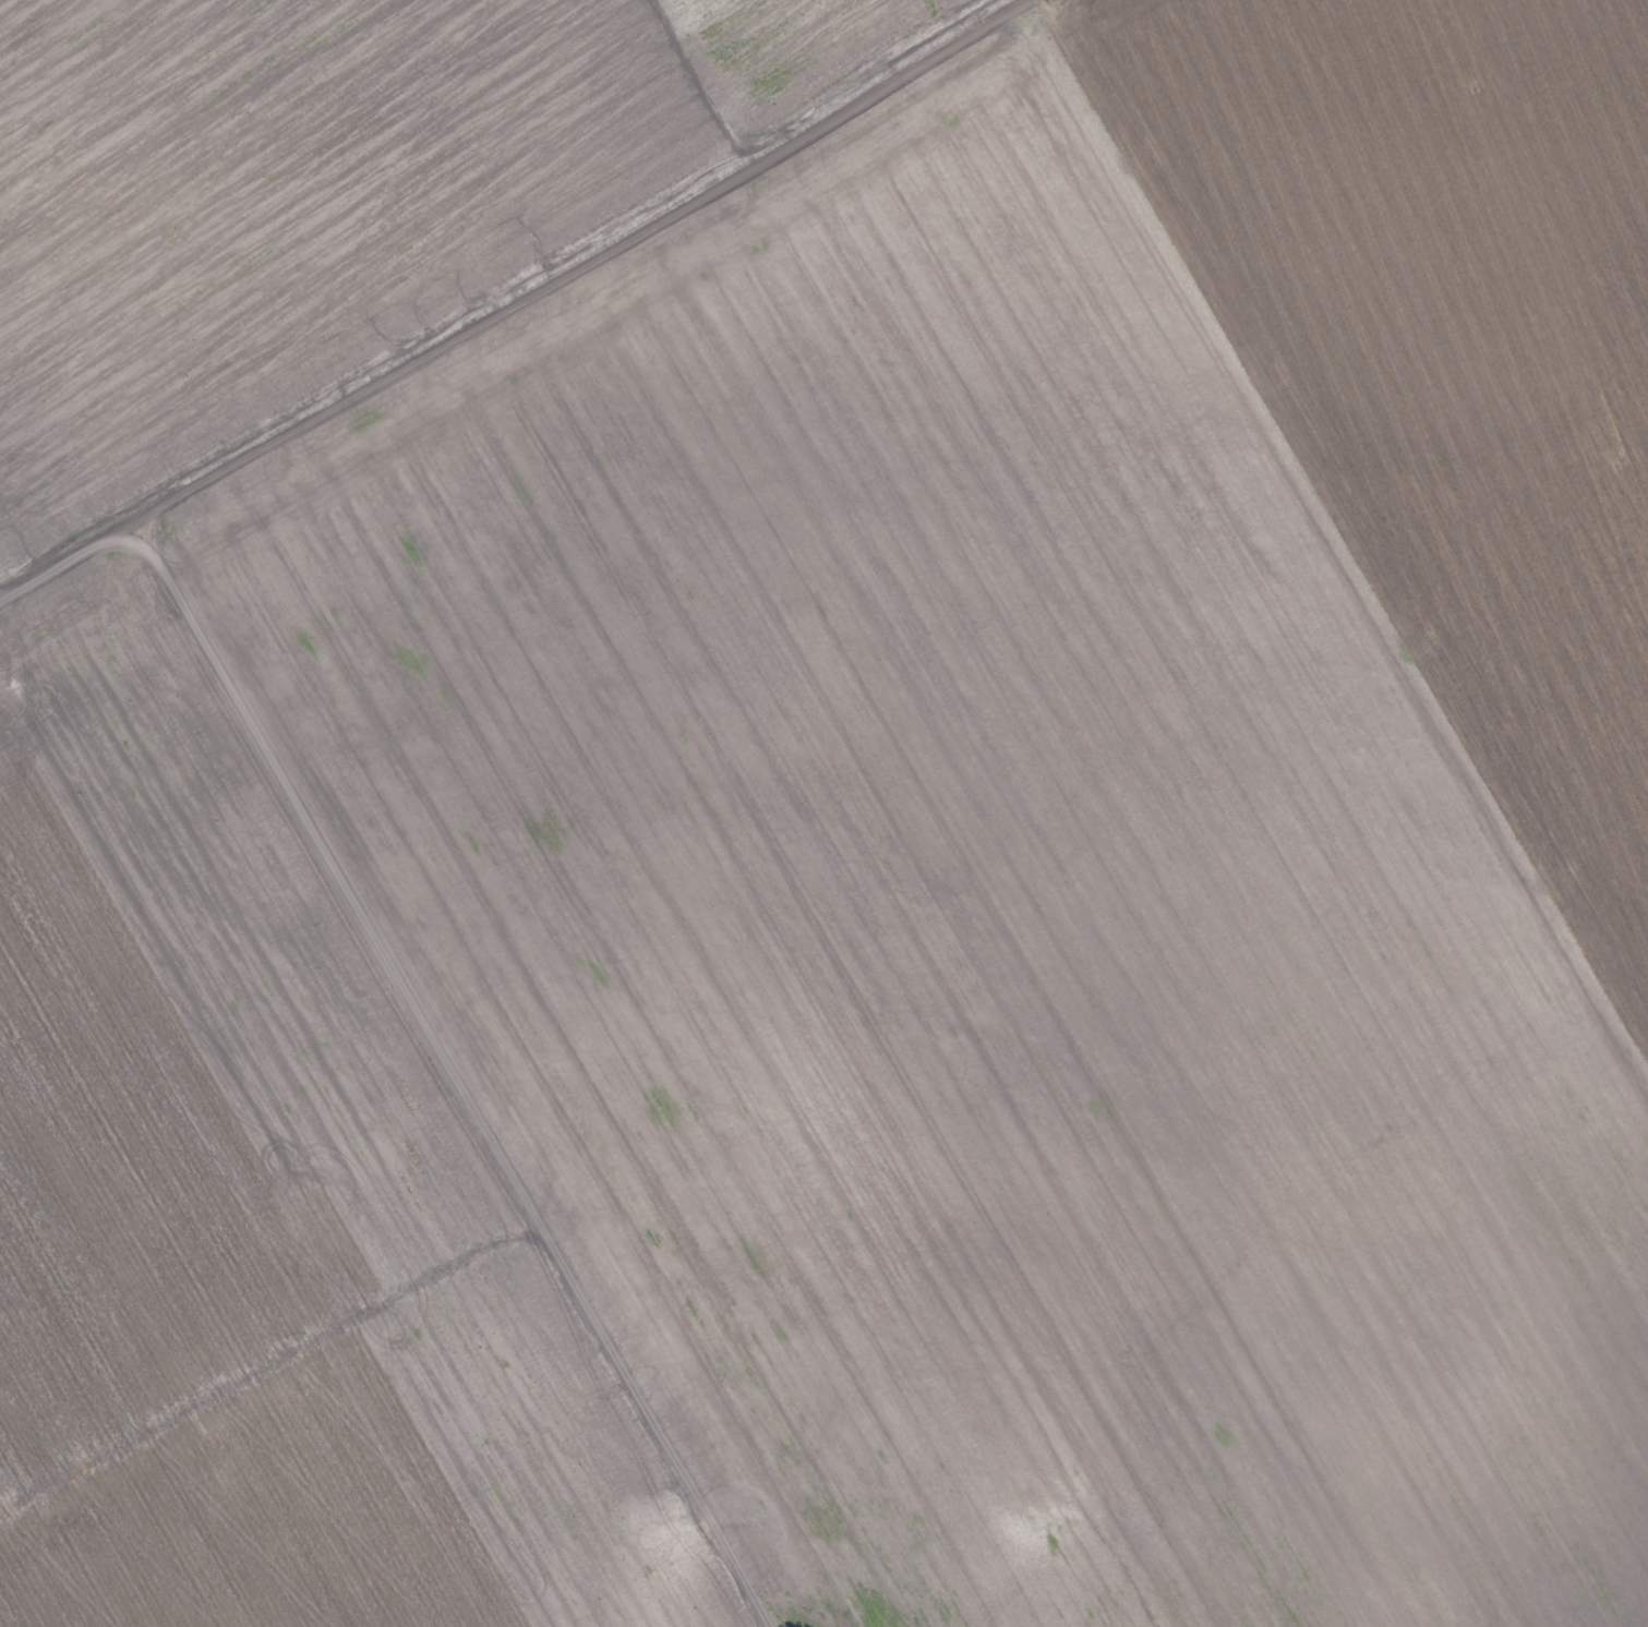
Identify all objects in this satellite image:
road: (561, 254)
road: (1346, 529)
road: (63, 543)
road: (452, 1065)

